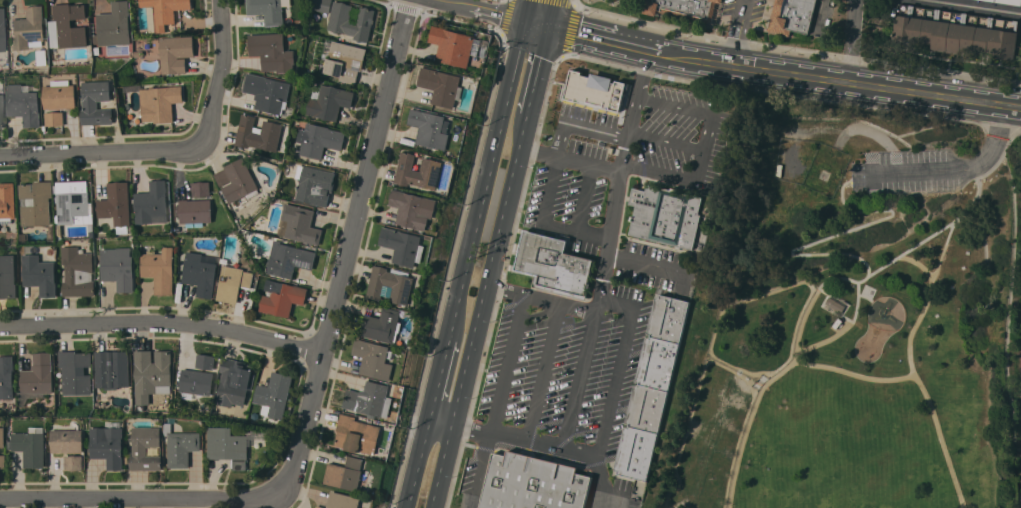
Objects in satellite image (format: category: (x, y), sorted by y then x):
building: (1009, 1)
road: (561, 2)
building: (321, 5)
road: (977, 6)
road: (483, 8)
road: (526, 9)
building: (687, 9)
building: (269, 10)
building: (166, 12)
road: (551, 14)
building: (792, 16)
road: (506, 17)
traffic signals: (524, 19)
building: (351, 21)
road: (536, 23)
building: (115, 24)
building: (70, 25)
traffic signals: (548, 28)
building: (29, 29)
road: (566, 30)
building: (956, 30)
building: (1, 32)
road: (737, 32)
road: (605, 41)
road: (851, 41)
building: (454, 46)
road: (793, 49)
building: (176, 51)
building: (272, 52)
building: (42, 57)
building: (345, 61)
road: (538, 71)
road: (841, 81)
building: (442, 86)
building: (593, 91)
building: (268, 92)
building: (61, 95)
building: (97, 102)
building: (330, 102)
building: (160, 103)
building: (24, 104)
building: (1, 112)
building: (55, 118)
road: (578, 122)
building: (430, 128)
building: (259, 134)
building: (319, 140)
road: (172, 145)
road: (709, 145)
road: (572, 158)
road: (949, 166)
building: (419, 171)
parking lot: (910, 171)
road: (983, 174)
road: (485, 179)
building: (237, 181)
building: (315, 185)
building: (201, 189)
building: (7, 201)
building: (73, 202)
building: (36, 203)
building: (152, 203)
building: (117, 205)
building: (414, 209)
building: (196, 212)
building: (666, 215)
road: (546, 220)
building: (302, 224)
road: (840, 234)
road: (611, 237)
road: (948, 239)
building: (404, 246)
building: (289, 259)
road: (345, 259)
road: (646, 264)
road: (491, 265)
building: (554, 265)
building: (118, 267)
building: (159, 269)
building: (39, 271)
building: (78, 271)
building: (201, 273)
building: (8, 276)
building: (233, 283)
building: (391, 284)
building: (280, 296)
building: (835, 303)
road: (857, 309)
road: (804, 319)
park: (850, 319)
road: (162, 325)
building: (382, 325)
road: (826, 339)
building: (374, 359)
building: (206, 361)
road: (509, 363)
building: (112, 369)
road: (543, 371)
building: (75, 372)
building: (152, 374)
building: (38, 375)
road: (438, 375)
road: (855, 375)
building: (6, 377)
road: (581, 379)
building: (197, 382)
building: (235, 382)
building: (652, 387)
building: (274, 395)
building: (368, 398)
road: (752, 424)
road: (937, 431)
building: (358, 435)
building: (2, 437)
building: (68, 441)
building: (109, 445)
building: (31, 446)
building: (228, 446)
building: (181, 447)
building: (147, 449)
road: (601, 451)
road: (417, 459)
building: (3, 462)
building: (74, 463)
road: (444, 463)
road: (482, 469)
building: (348, 475)
road: (609, 481)
building: (533, 483)
road: (132, 501)
building: (344, 501)
building: (320, 506)

